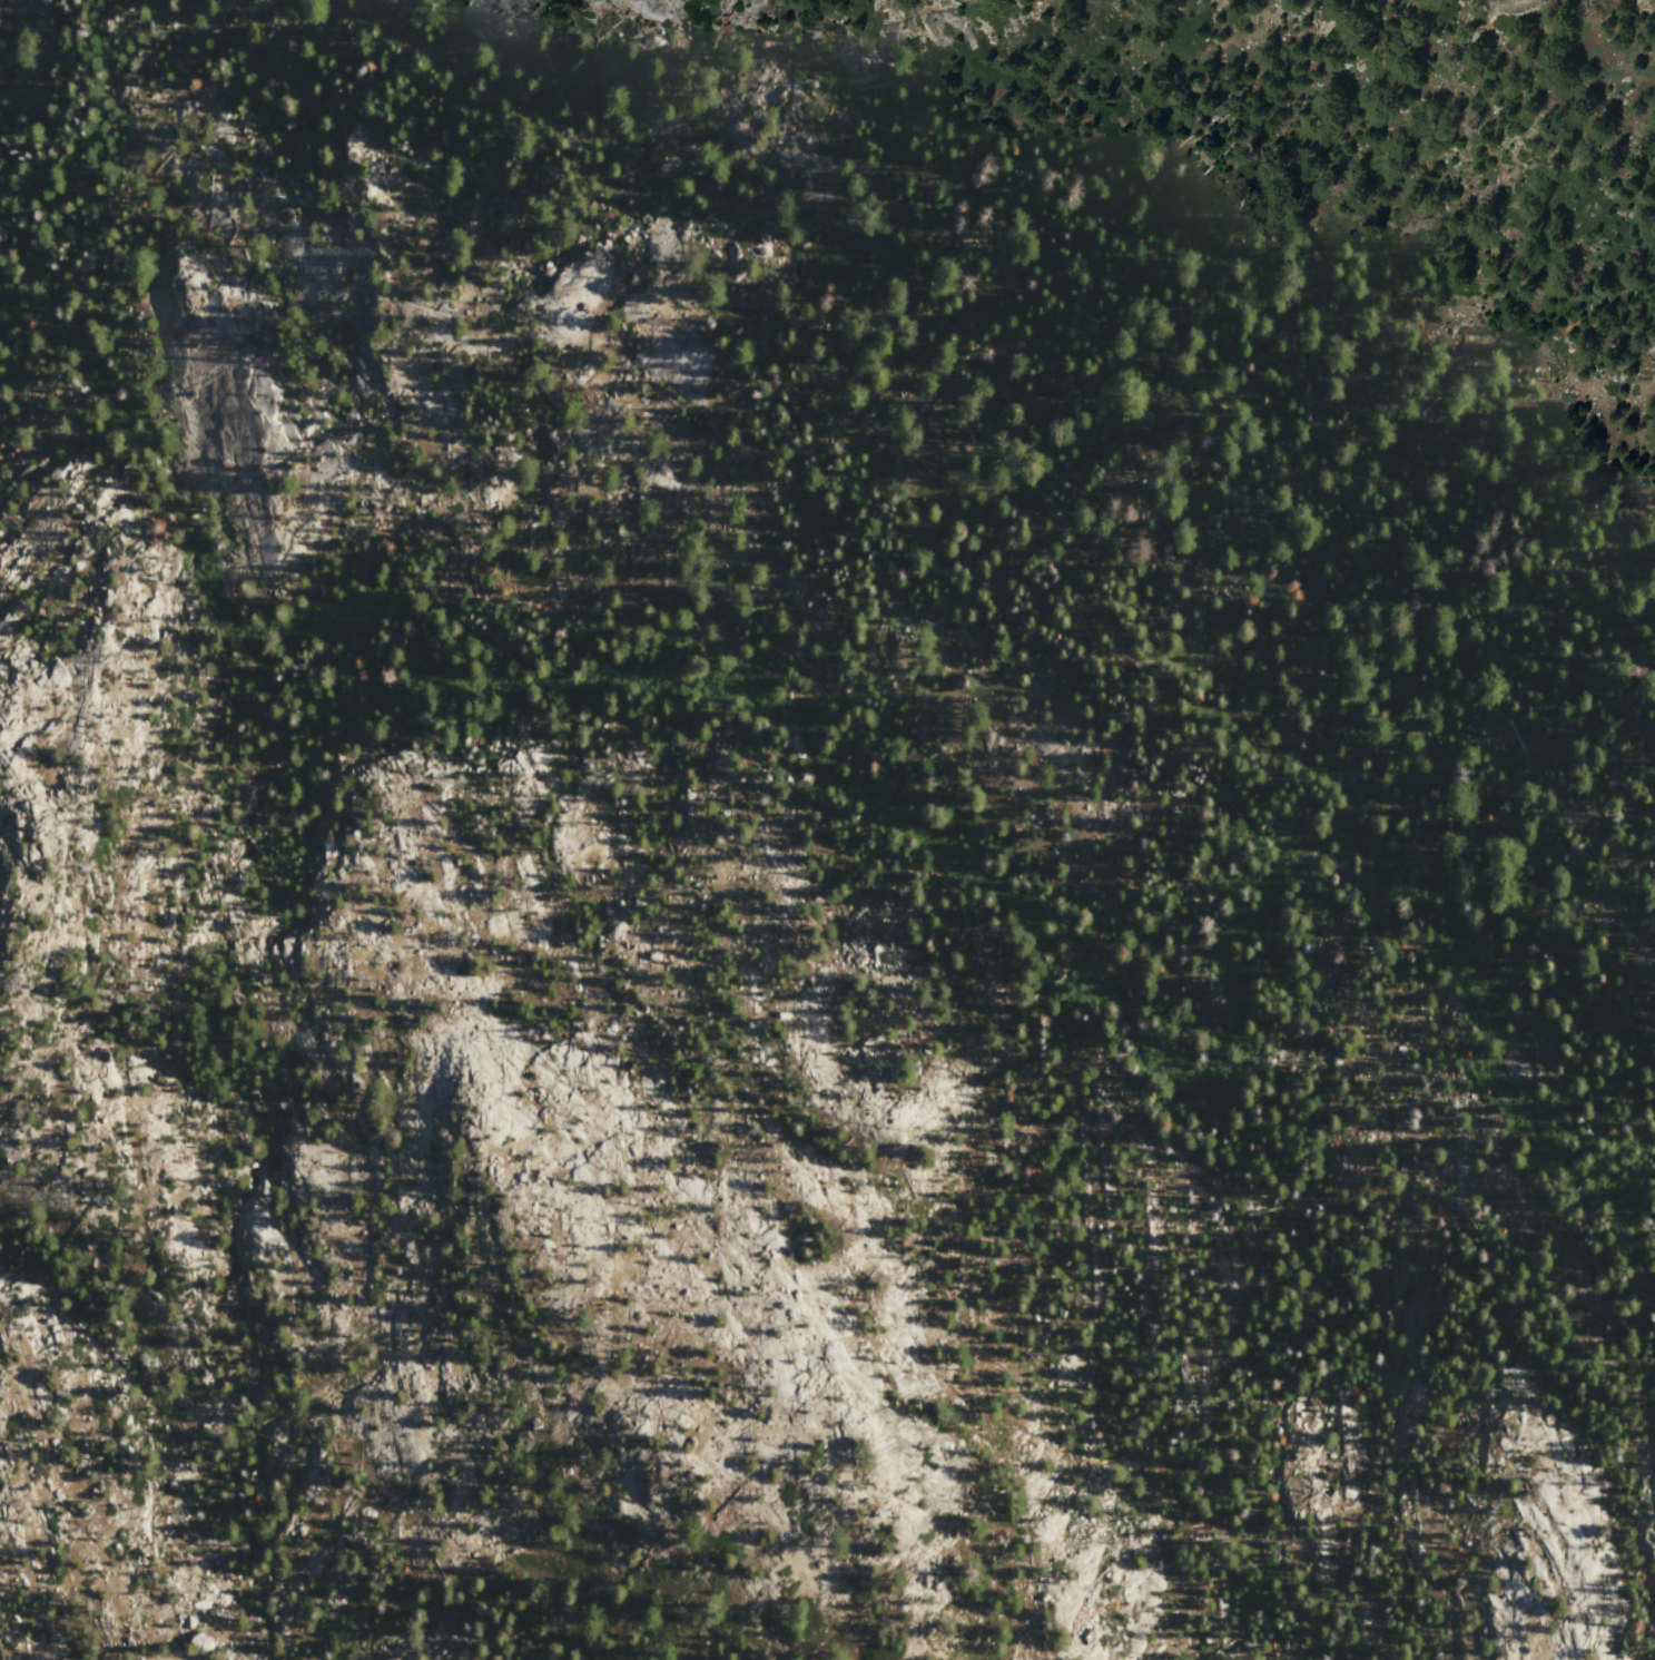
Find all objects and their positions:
road: (1606, 1247)
road: (1424, 1460)

